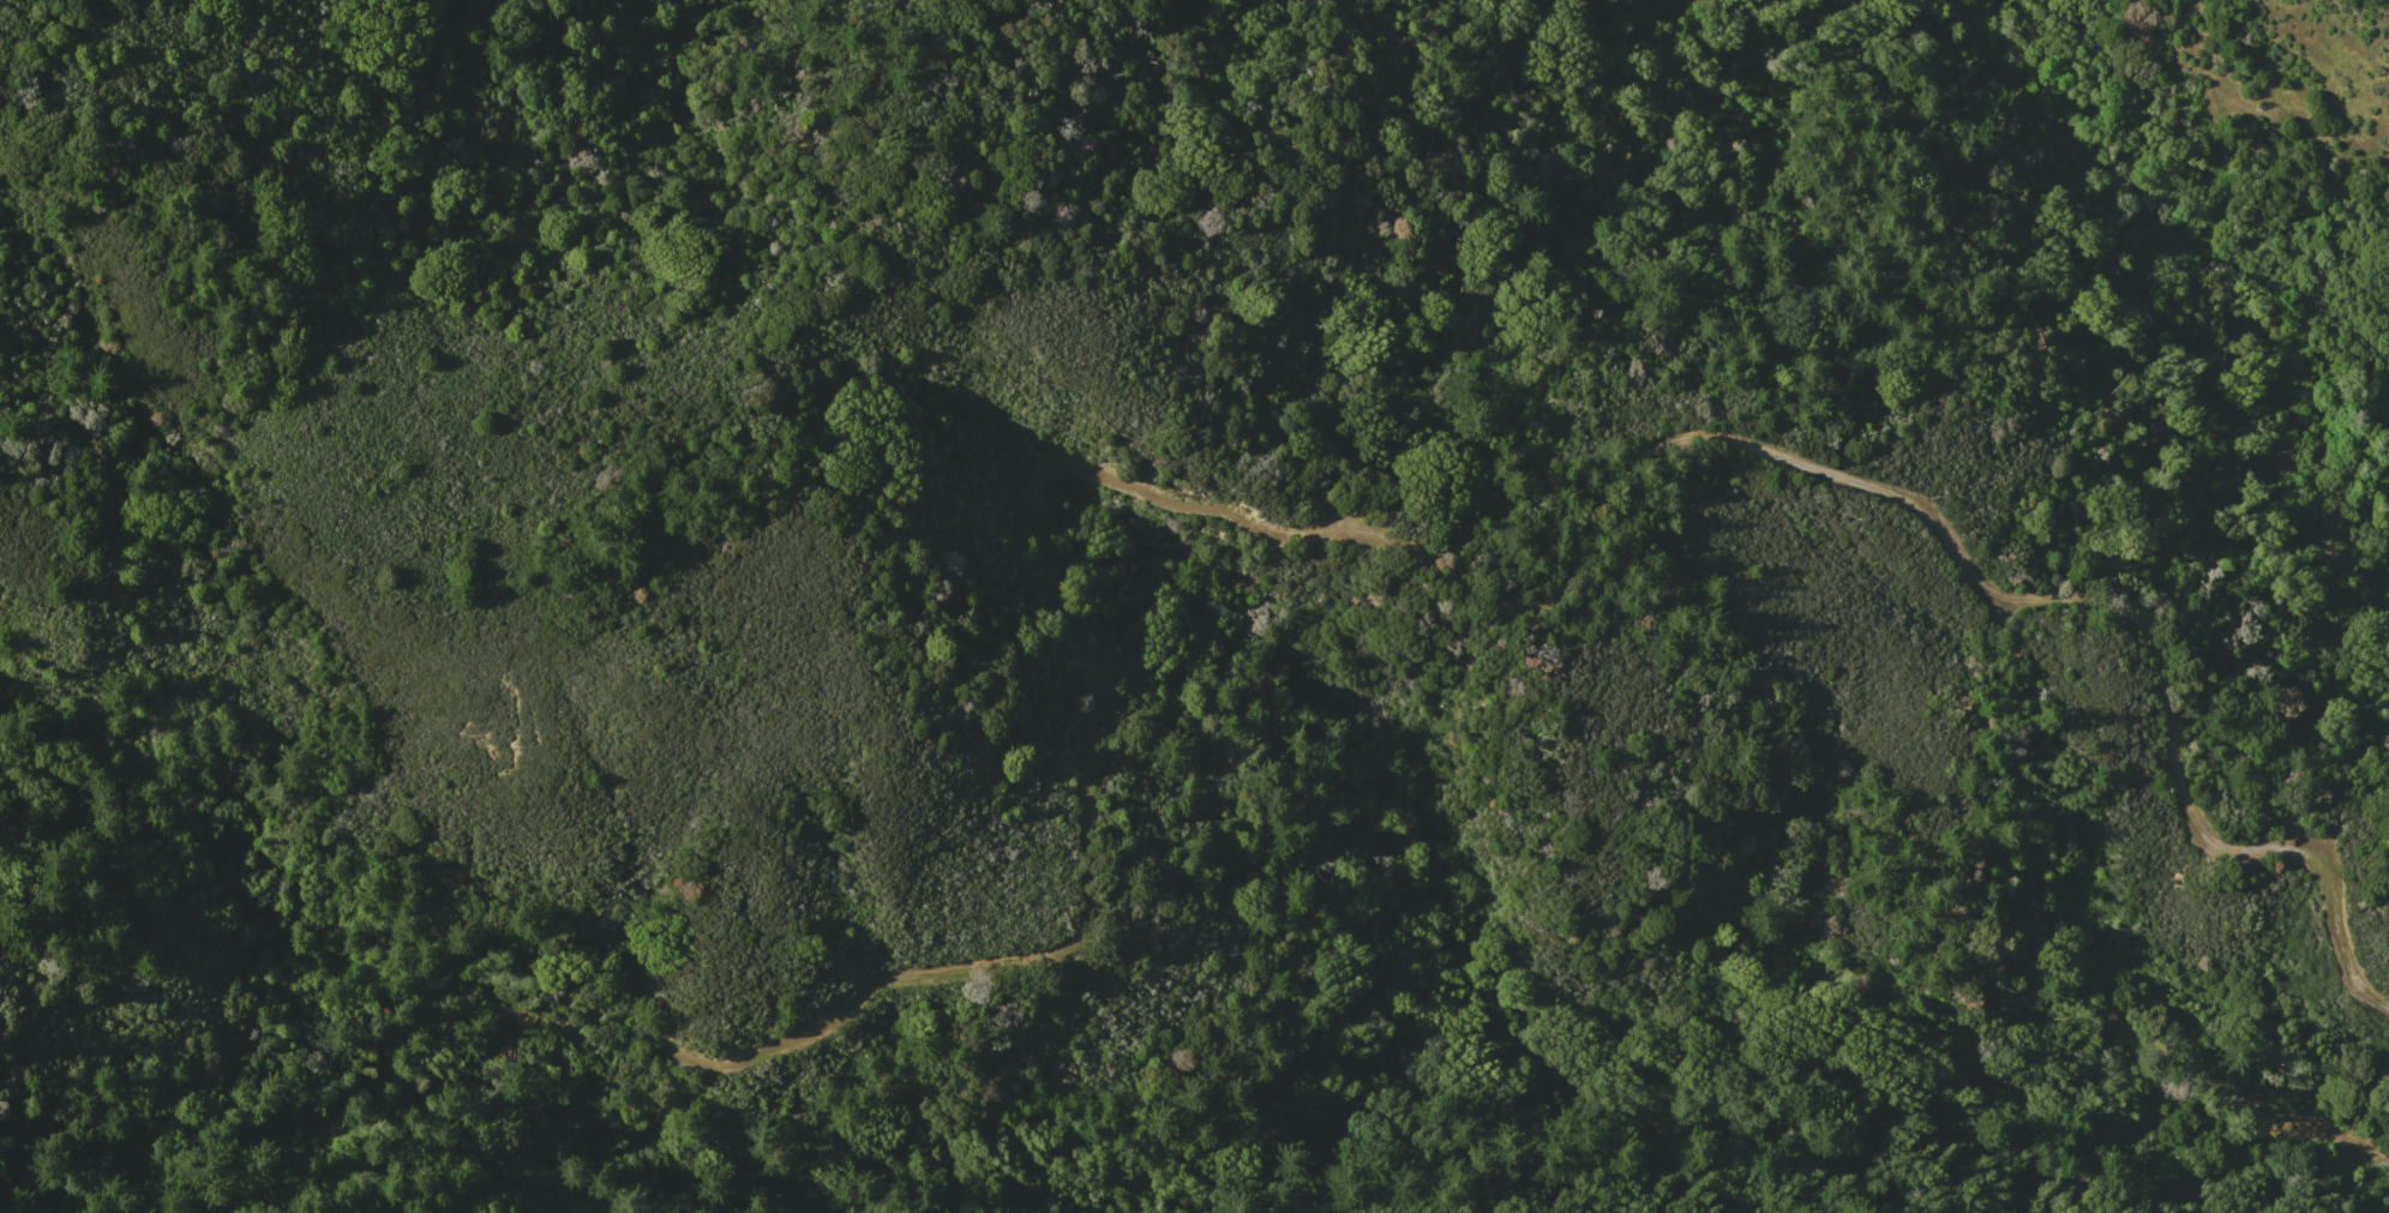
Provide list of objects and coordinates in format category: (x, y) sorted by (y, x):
road: (2211, 276)
road: (1347, 535)

